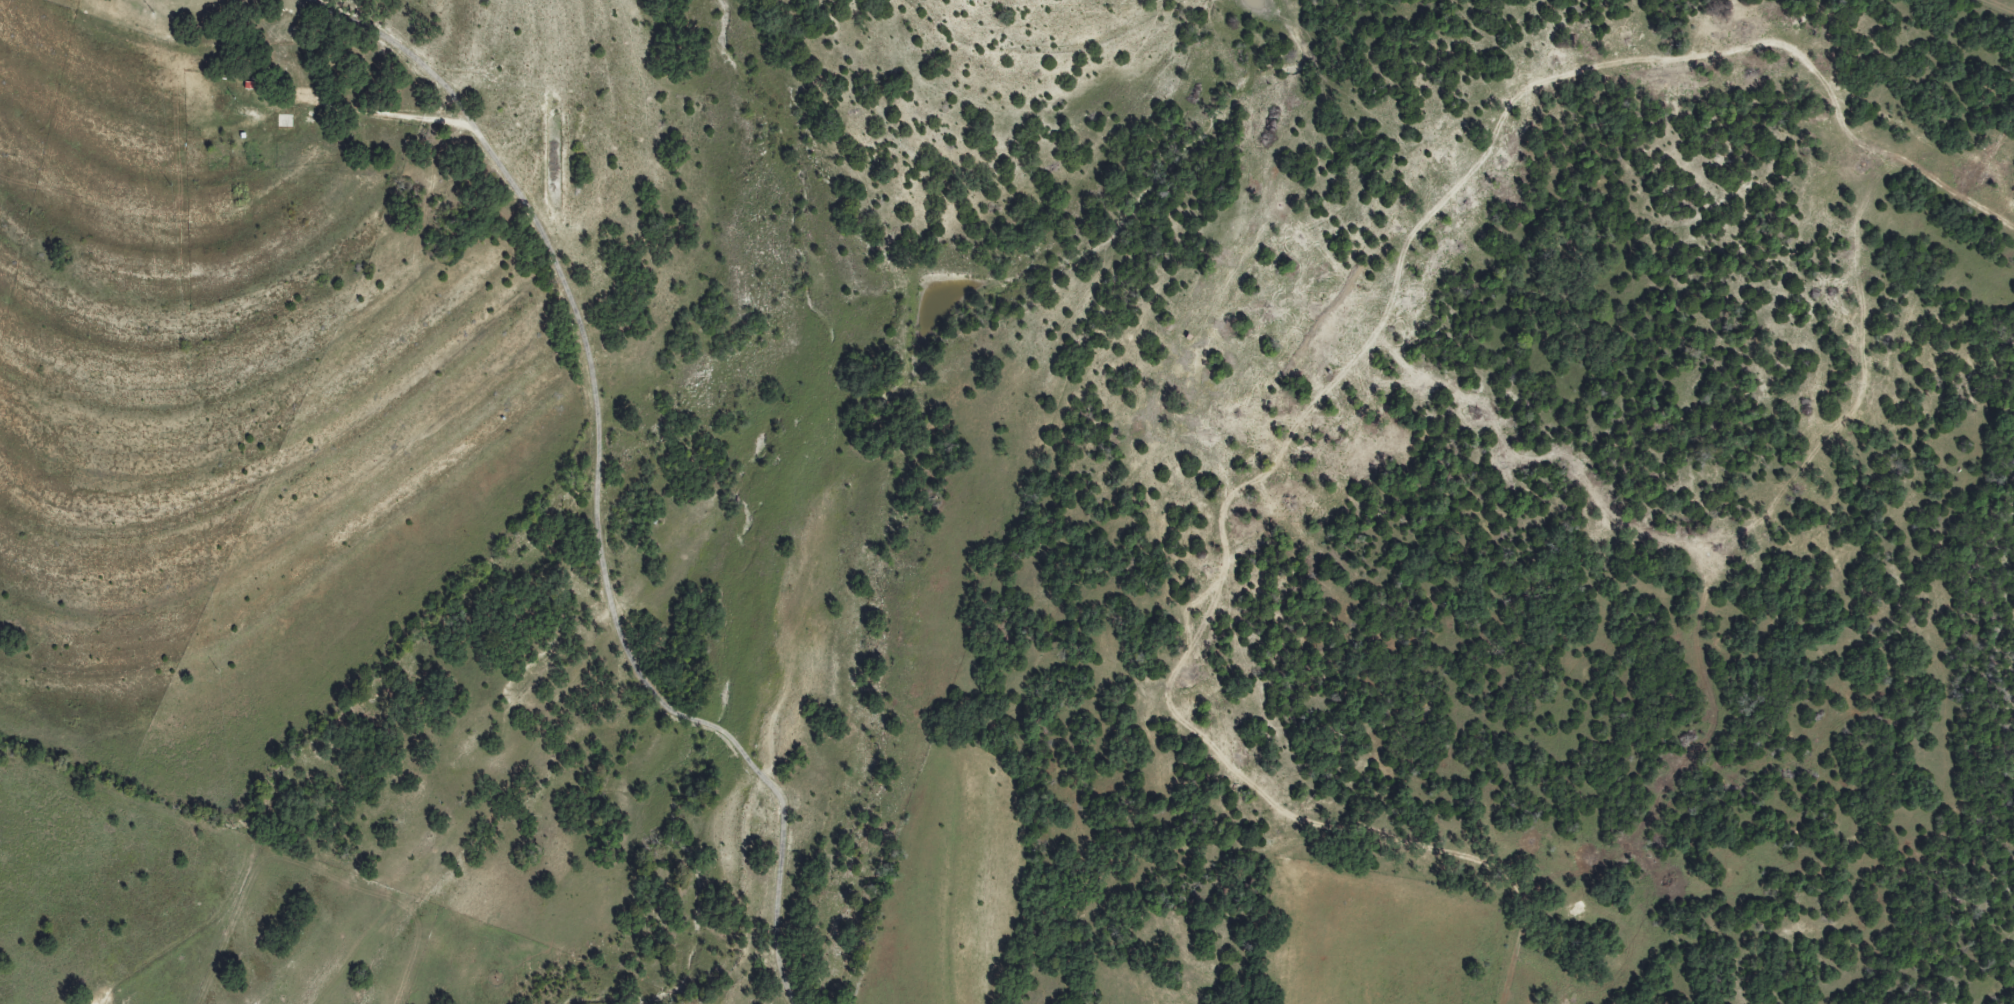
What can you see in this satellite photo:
road: (388, 114)
building: (282, 123)
road: (598, 487)

